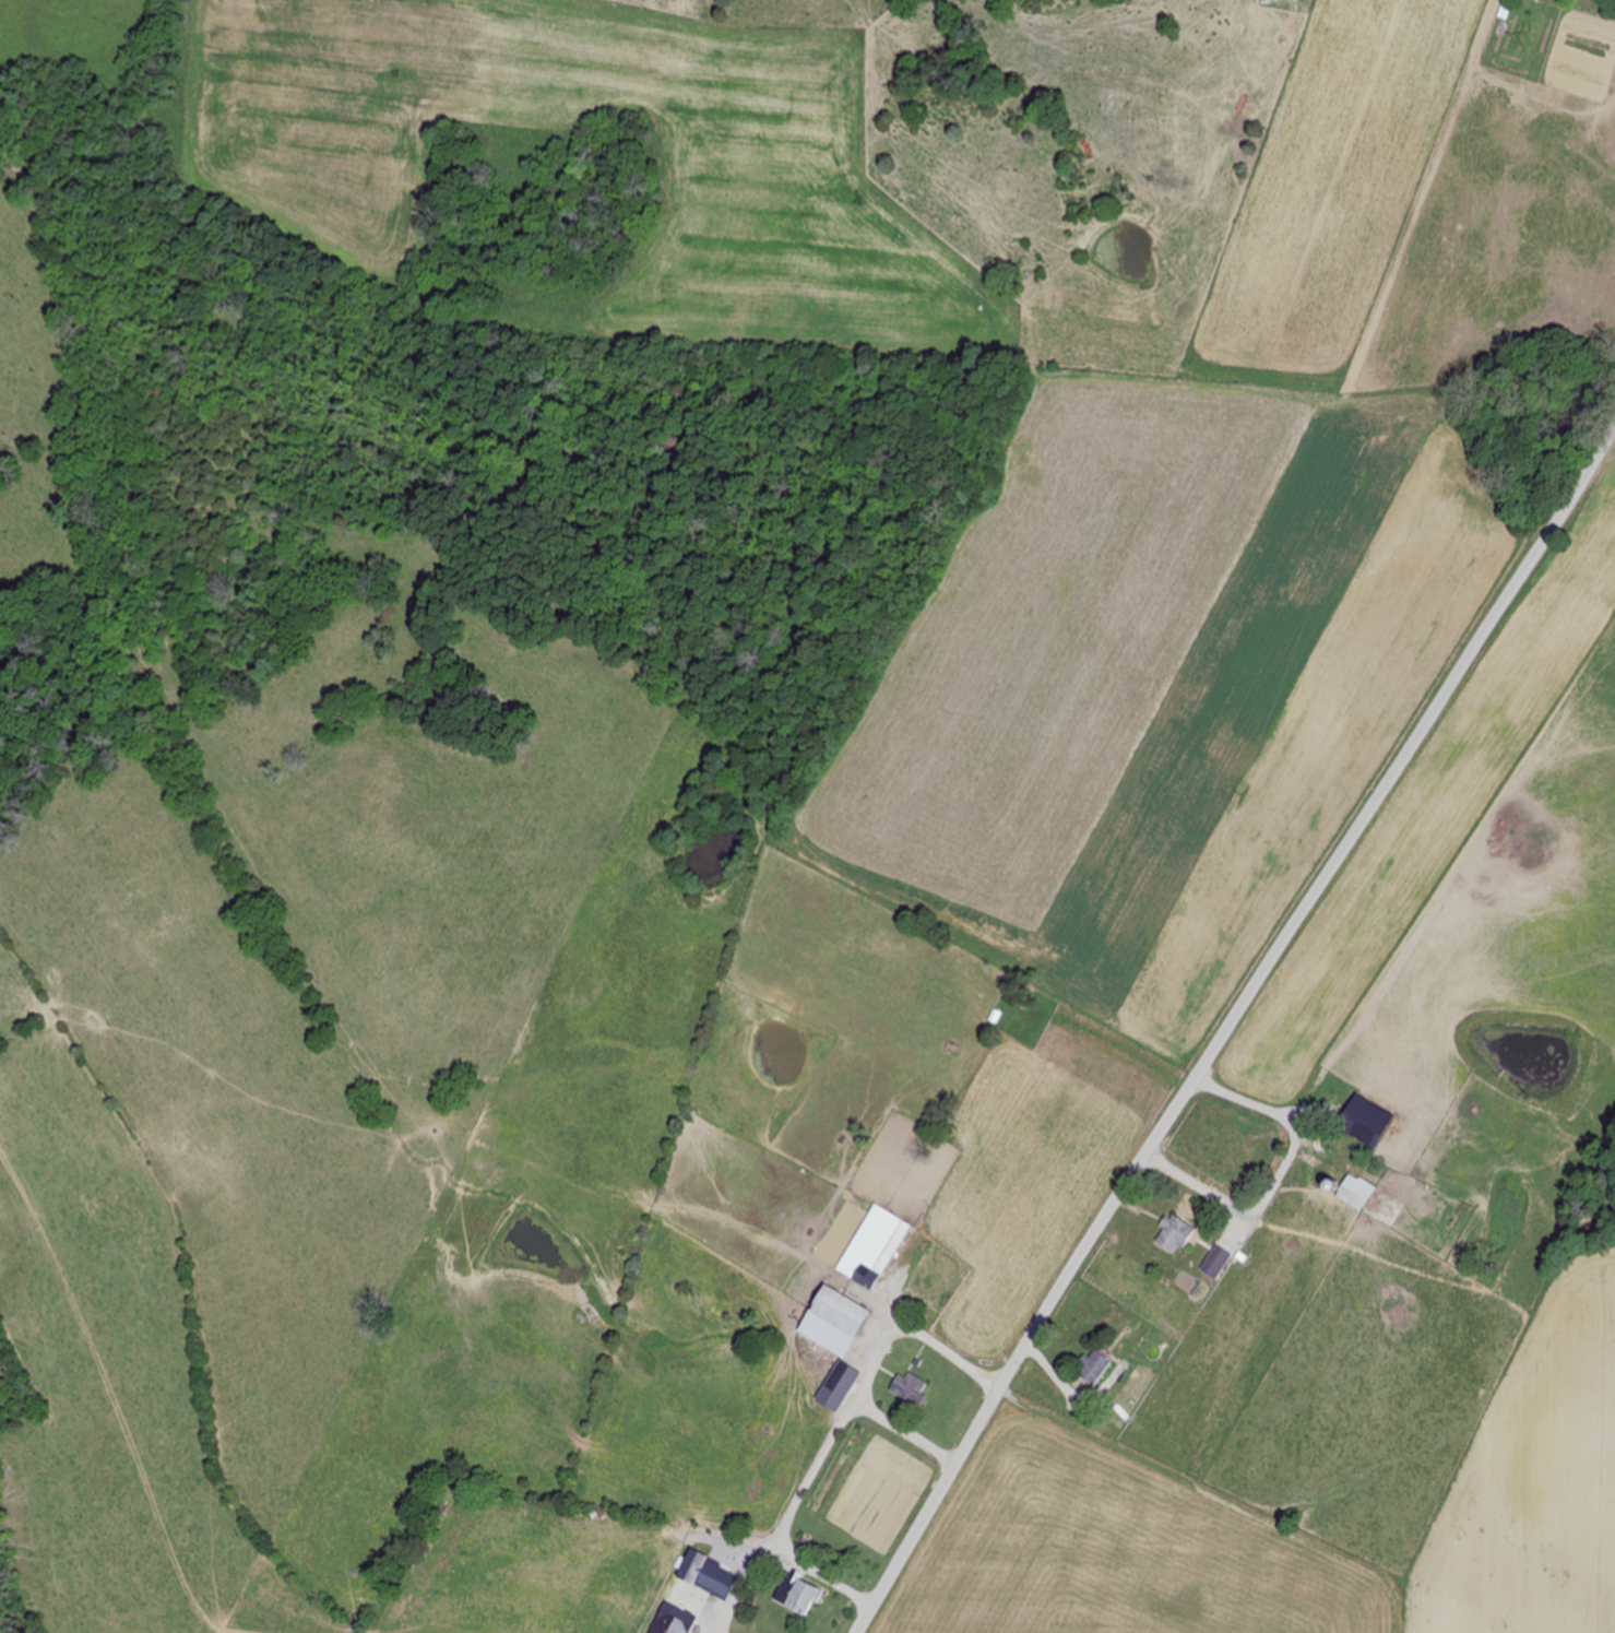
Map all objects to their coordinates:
road: (1090, 705)
road: (1230, 1022)
building: (1369, 1121)
building: (1357, 1193)
building: (1176, 1234)
building: (886, 1253)
building: (1219, 1262)
building: (846, 1315)
building: (1095, 1368)
building: (842, 1386)
building: (913, 1389)
building: (697, 1566)
building: (803, 1594)

